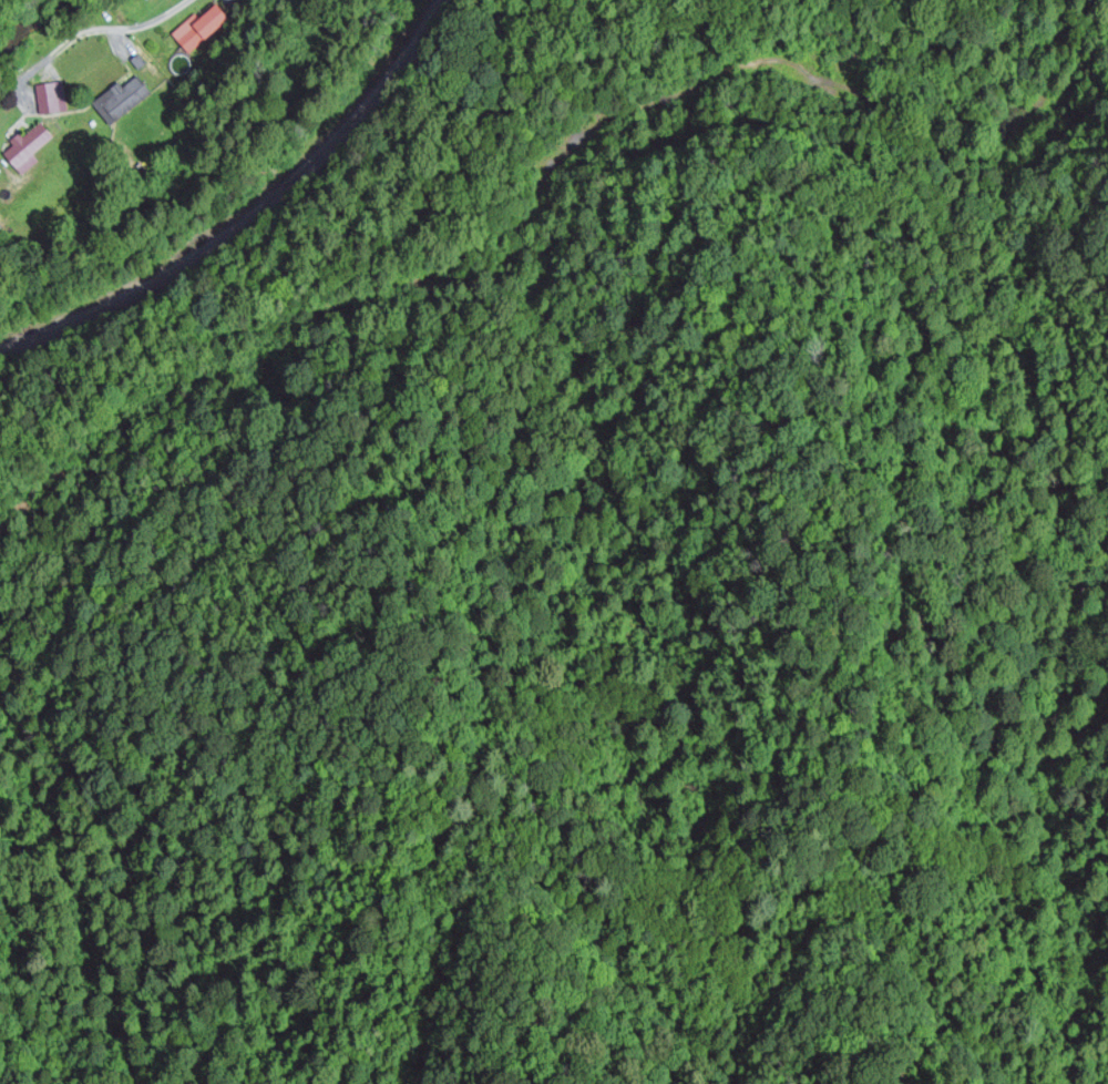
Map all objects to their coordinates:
road: (135, 28)
building: (202, 30)
building: (129, 99)
building: (31, 149)
railway: (253, 216)

